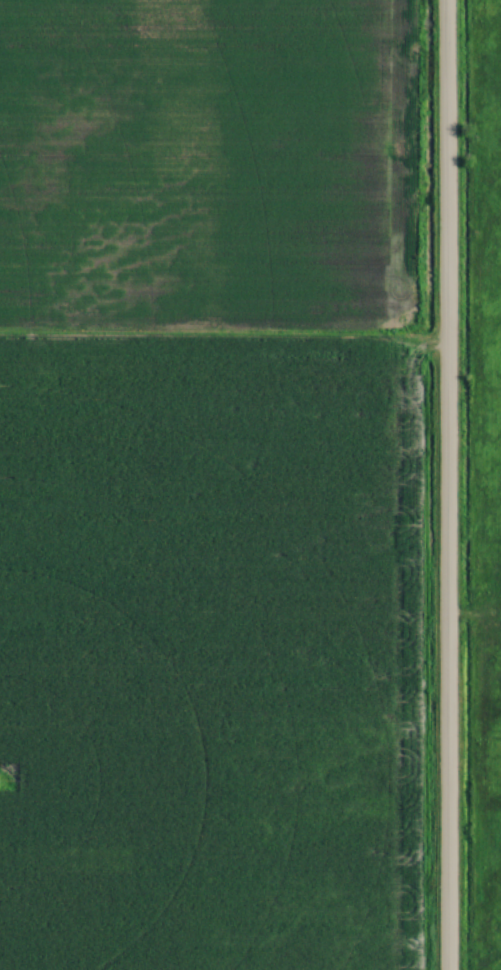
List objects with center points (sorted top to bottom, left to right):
road: (446, 484)

